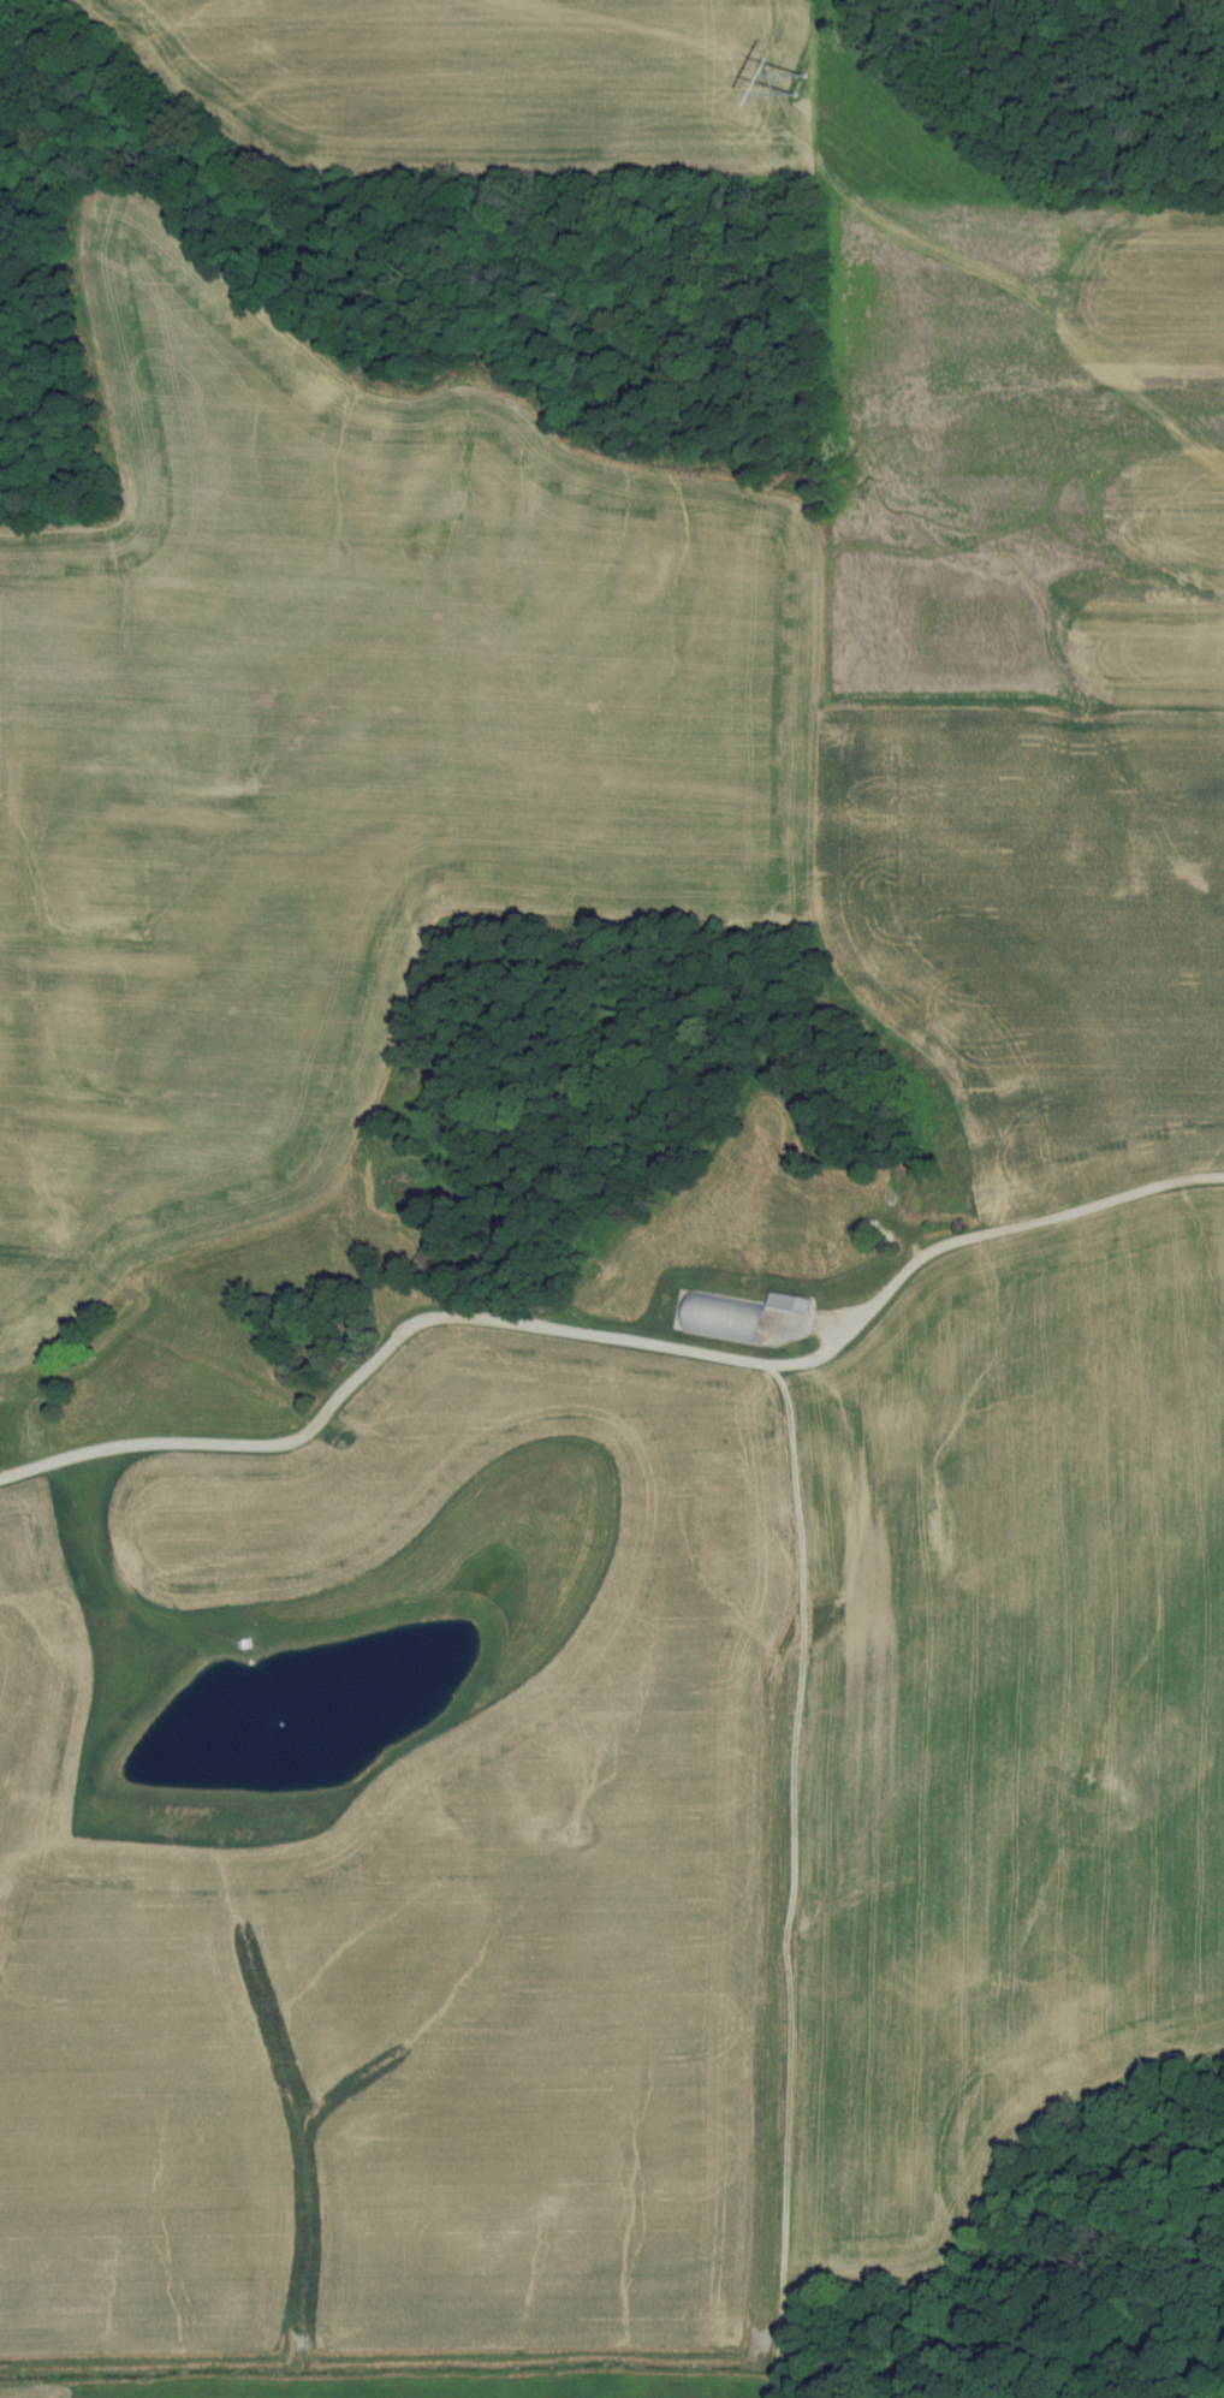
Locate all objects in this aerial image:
power tower: (797, 84)
building: (719, 1317)
road: (611, 1337)

